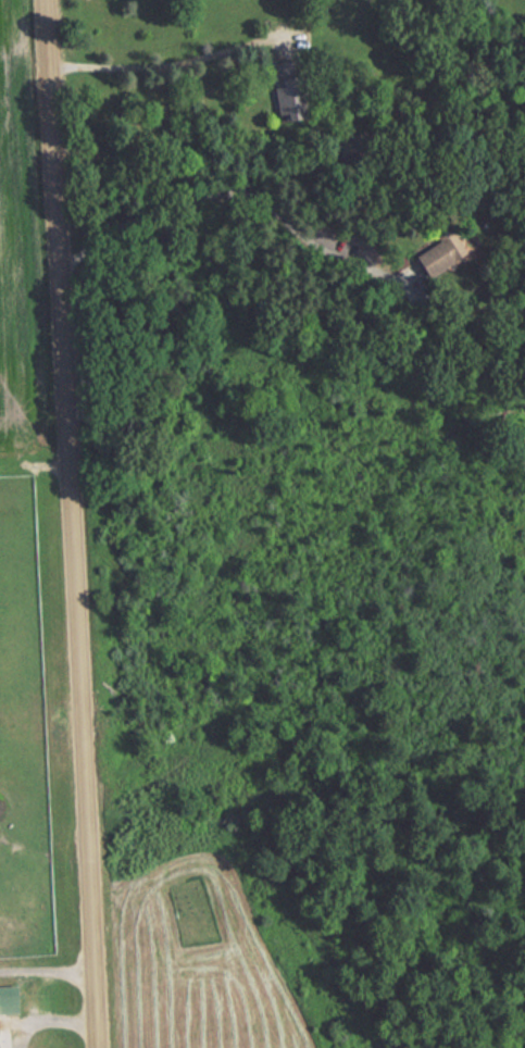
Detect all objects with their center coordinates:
road: (163, 60)
building: (287, 97)
road: (239, 194)
road: (71, 523)
road: (45, 963)
building: (5, 1012)
road: (47, 1014)

